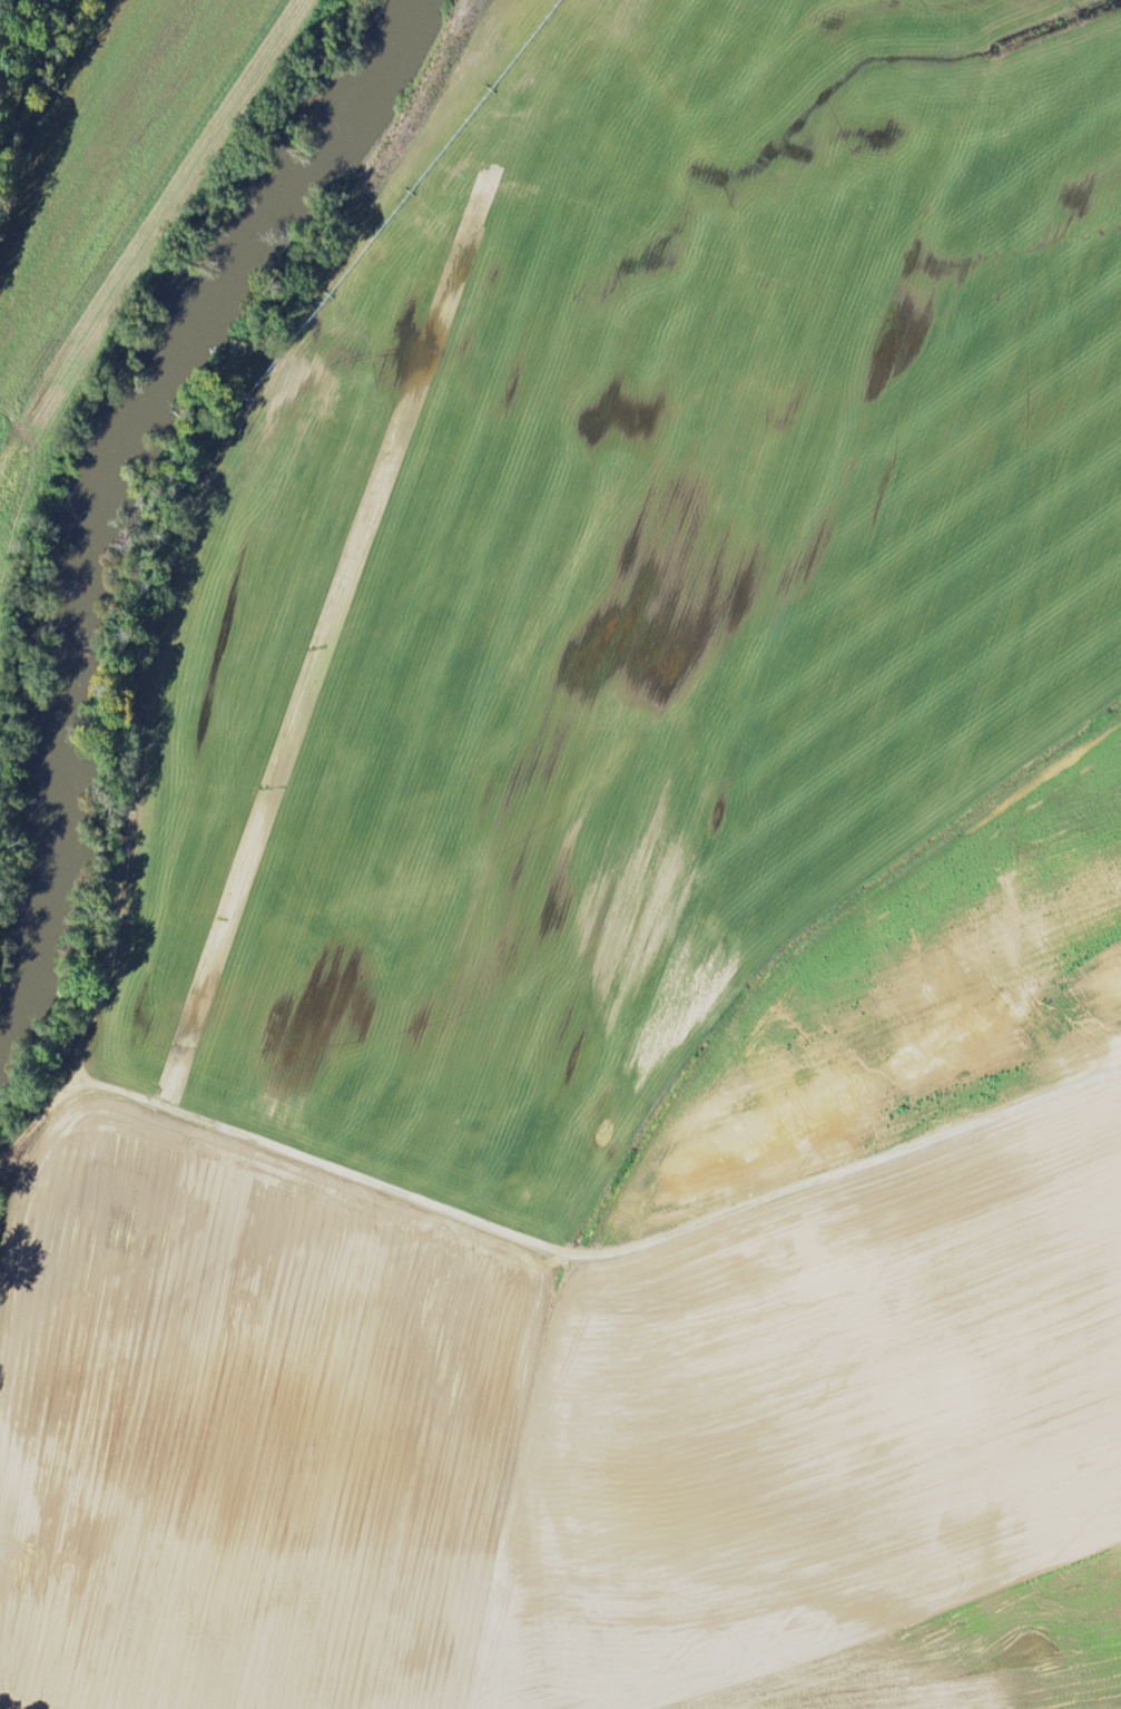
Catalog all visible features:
river: (105, 489)

